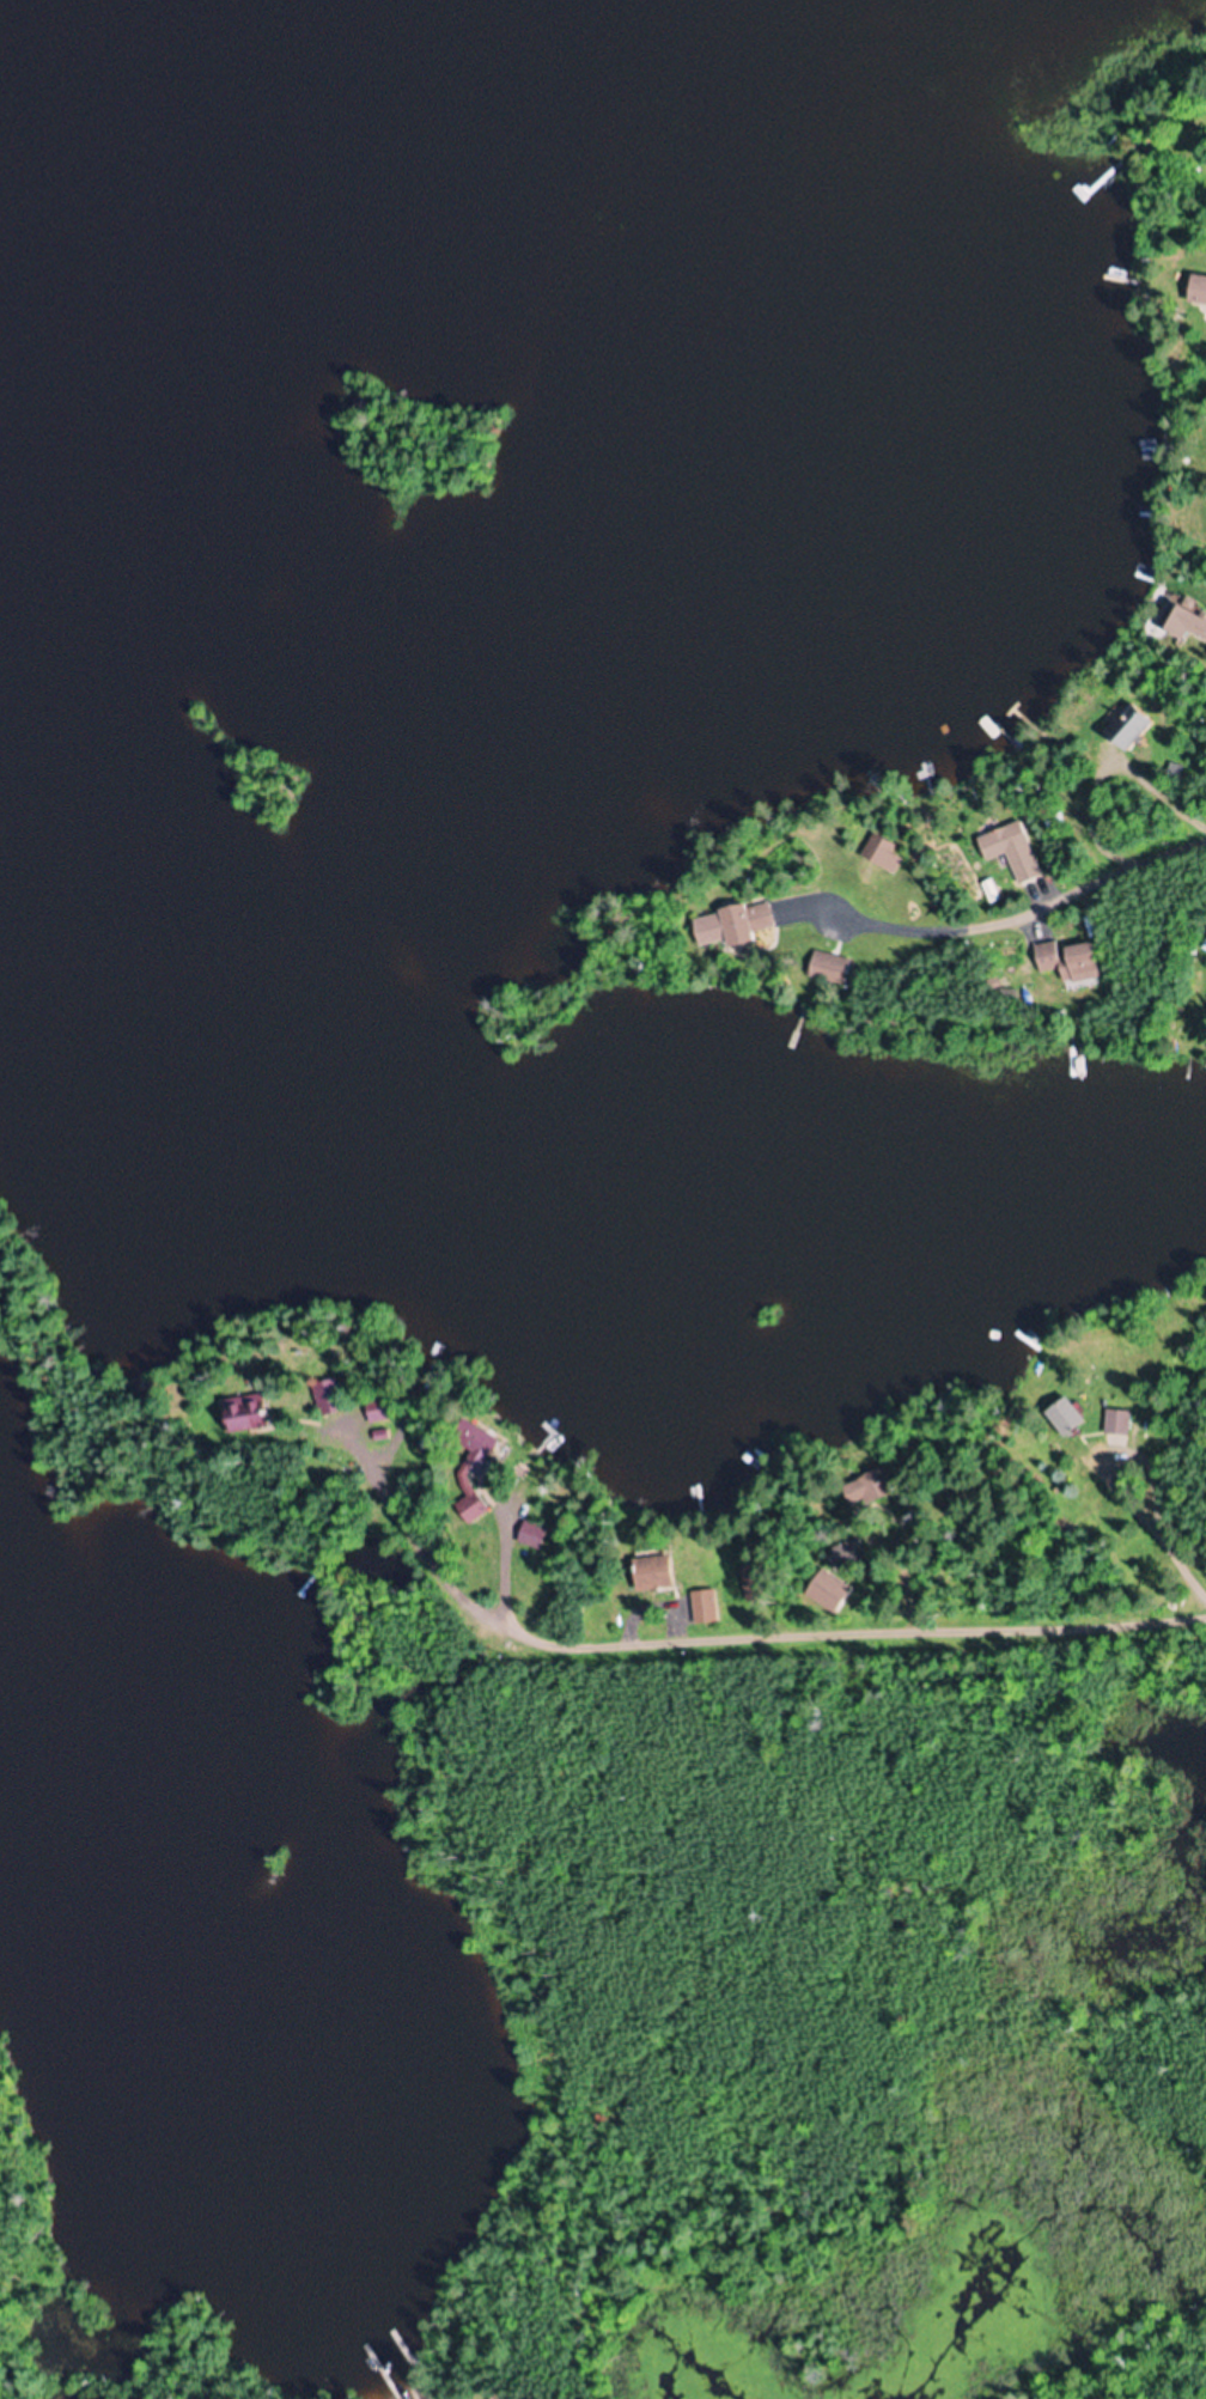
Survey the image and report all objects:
building: (1198, 291)
building: (1182, 620)
building: (1128, 726)
building: (1012, 851)
road: (1071, 911)
building: (741, 925)
building: (1068, 961)
building: (828, 969)
building: (327, 1396)
building: (377, 1411)
building: (244, 1413)
building: (1116, 1421)
building: (865, 1488)
building: (470, 1508)
building: (532, 1534)
building: (653, 1572)
building: (745, 1584)
building: (828, 1593)
building: (705, 1606)
road: (822, 1613)

